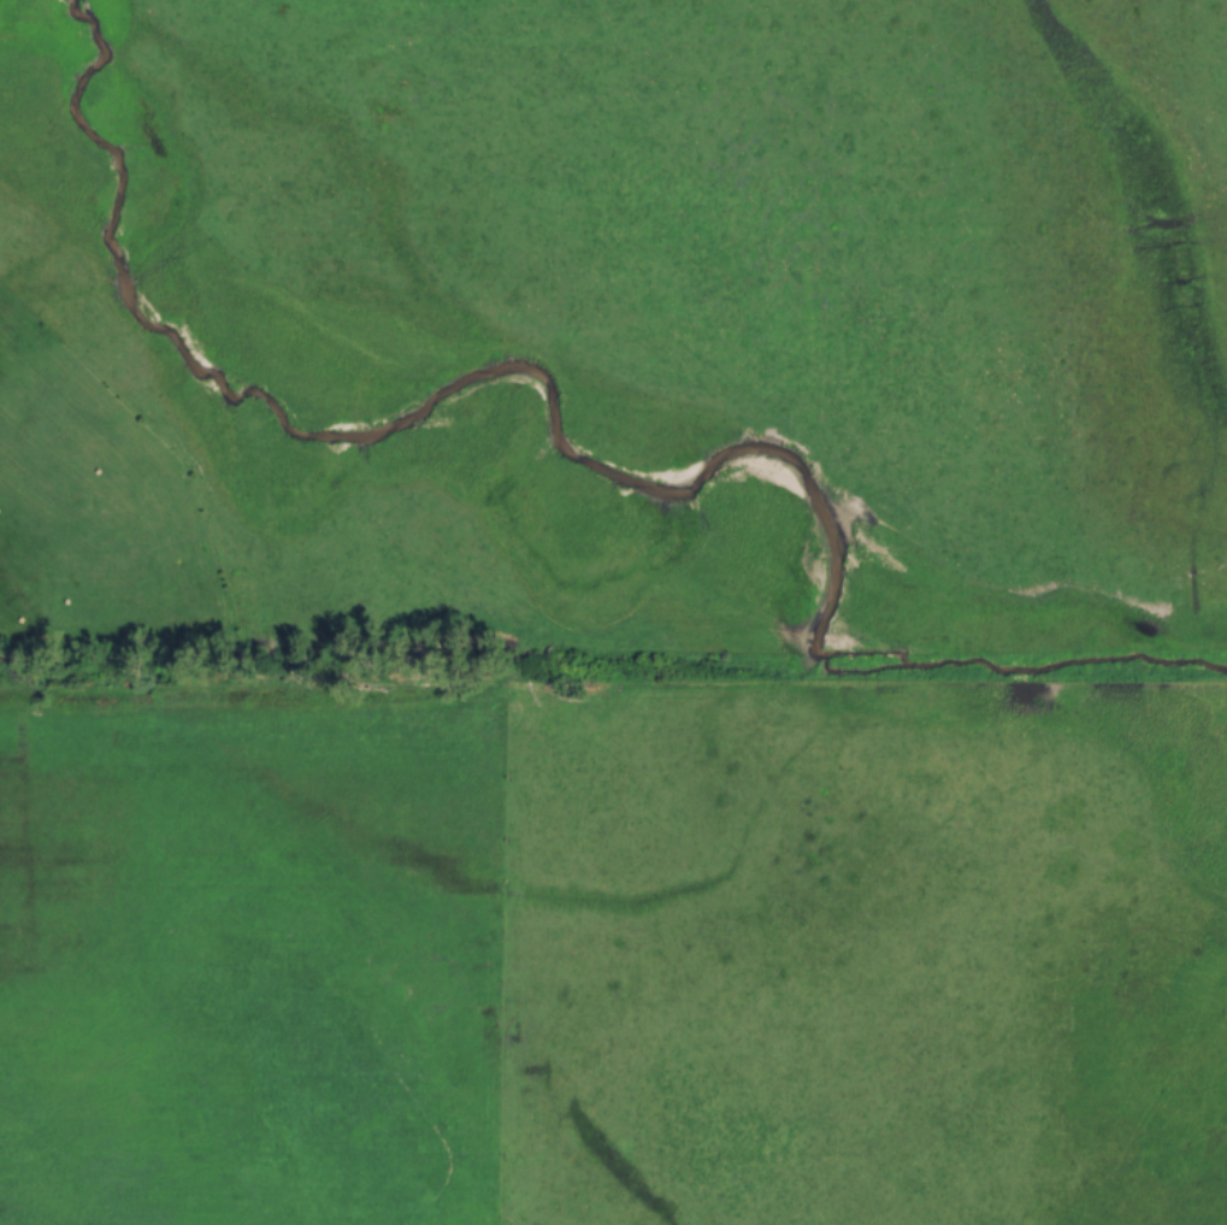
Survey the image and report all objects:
river: (542, 393)

